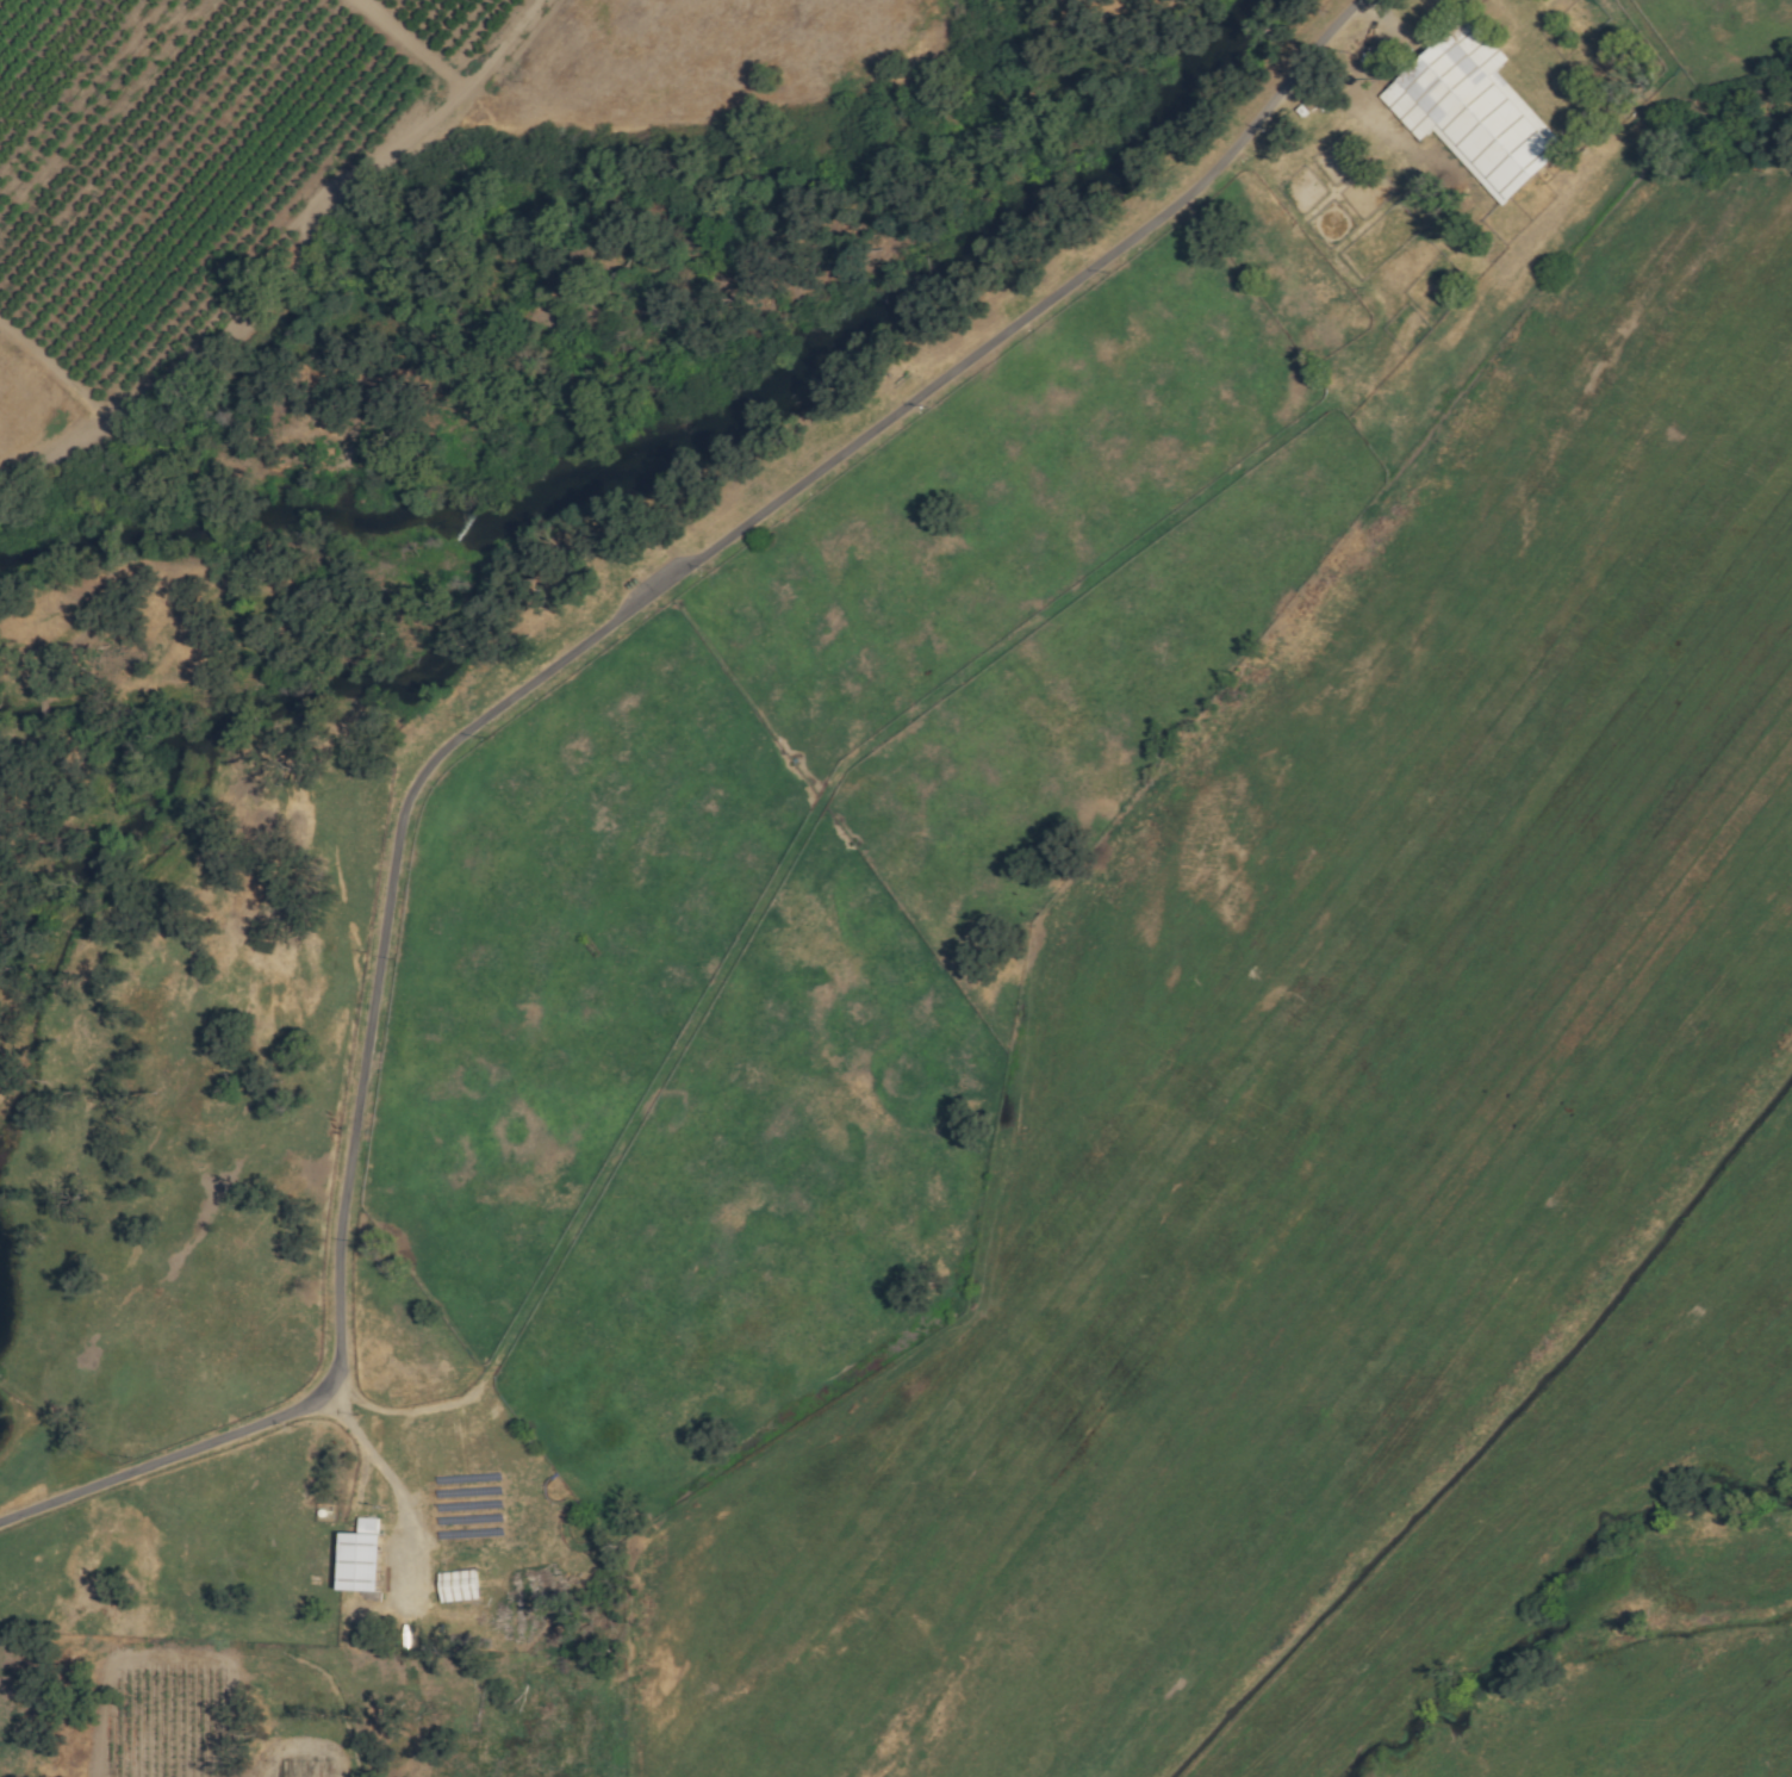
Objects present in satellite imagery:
crop: (692, 58)
river: (884, 317)
crop: (39, 417)
river: (226, 529)
road: (509, 695)
crop: (1157, 1012)
road: (391, 1481)
building: (367, 1558)
crop: (1655, 1683)
crop: (149, 1719)

